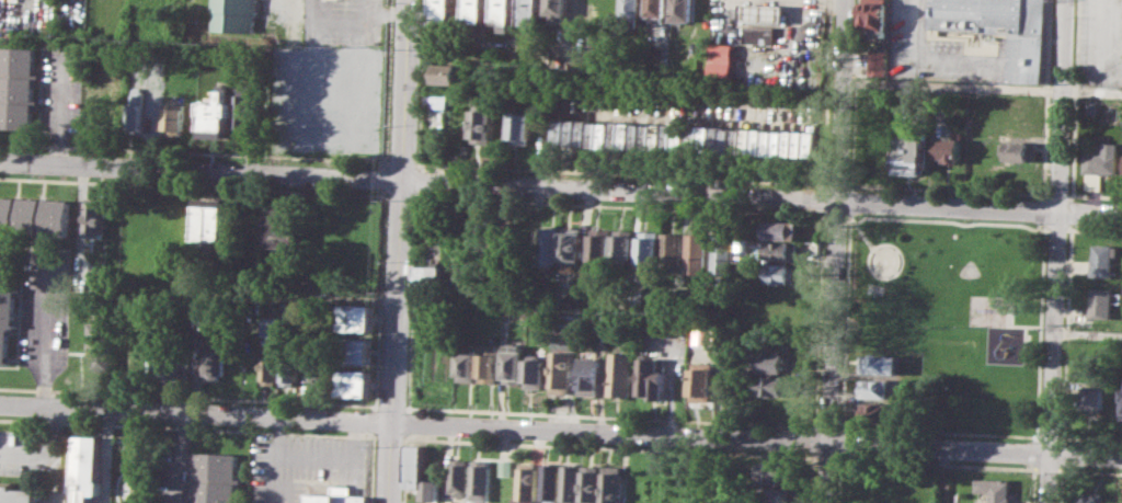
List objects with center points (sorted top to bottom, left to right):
building: (557, 9)
building: (657, 9)
building: (684, 10)
building: (444, 11)
building: (477, 11)
building: (531, 12)
building: (607, 12)
building: (633, 12)
building: (763, 12)
gas station: (763, 12)
building: (505, 13)
building: (236, 14)
building: (875, 18)
road: (291, 20)
building: (1001, 28)
building: (759, 34)
parking lot: (1100, 43)
building: (722, 60)
building: (878, 61)
building: (448, 72)
road: (386, 83)
road: (420, 83)
building: (16, 87)
road: (982, 88)
parking lot: (60, 90)
road: (826, 92)
building: (435, 100)
road: (1057, 105)
building: (243, 107)
building: (1091, 107)
road: (59, 108)
building: (214, 115)
building: (134, 116)
building: (173, 121)
building: (483, 125)
building: (1019, 127)
building: (519, 128)
building: (618, 135)
building: (752, 140)
building: (947, 149)
building: (1018, 150)
road: (192, 151)
building: (909, 152)
building: (1102, 159)
road: (385, 163)
road: (399, 163)
road: (620, 174)
road: (382, 178)
road: (416, 179)
road: (837, 184)
road: (528, 185)
road: (848, 185)
road: (855, 185)
road: (382, 191)
road: (1055, 195)
road: (1094, 195)
road: (823, 199)
road: (619, 206)
road: (1066, 210)
road: (1089, 213)
building: (34, 216)
building: (93, 217)
building: (209, 221)
building: (280, 224)
road: (856, 224)
building: (782, 229)
road: (1096, 229)
building: (494, 239)
building: (503, 240)
building: (548, 243)
building: (572, 244)
building: (599, 244)
building: (622, 247)
building: (646, 249)
building: (781, 250)
road: (398, 251)
road: (836, 251)
building: (671, 252)
building: (694, 252)
building: (721, 253)
building: (1103, 259)
park: (969, 270)
building: (99, 271)
road: (897, 271)
building: (780, 272)
building: (428, 278)
road: (378, 295)
building: (636, 298)
road: (411, 300)
building: (1100, 302)
building: (7, 305)
parking lot: (46, 306)
park: (955, 315)
building: (357, 317)
road: (817, 321)
building: (270, 323)
road: (1009, 324)
building: (676, 328)
road: (45, 330)
building: (99, 332)
road: (1052, 332)
road: (1065, 333)
road: (1086, 334)
building: (707, 335)
building: (356, 350)
road: (1023, 351)
building: (213, 355)
building: (160, 362)
building: (774, 362)
building: (515, 363)
building: (446, 364)
building: (880, 364)
building: (468, 365)
building: (490, 367)
building: (267, 369)
building: (287, 370)
building: (537, 371)
building: (319, 373)
building: (562, 373)
building: (592, 373)
building: (622, 373)
building: (655, 378)
building: (353, 382)
building: (705, 382)
park: (963, 382)
building: (770, 385)
building: (879, 388)
building: (1094, 397)
road: (371, 408)
building: (1121, 409)
building: (879, 412)
road: (54, 419)
road: (370, 420)
road: (408, 423)
road: (218, 428)
road: (843, 430)
road: (523, 433)
road: (1030, 433)
road: (371, 435)
road: (1035, 435)
road: (389, 437)
road: (1046, 437)
road: (1089, 439)
road: (813, 441)
road: (843, 444)
road: (609, 448)
parking lot: (30, 453)
road: (37, 454)
road: (1061, 454)
road: (1084, 455)
road: (826, 458)
road: (841, 458)
building: (506, 467)
building: (84, 468)
road: (404, 468)
road: (1091, 471)
building: (421, 472)
building: (779, 472)
building: (460, 476)
building: (213, 477)
road: (812, 478)
road: (1045, 478)
building: (481, 480)
building: (551, 481)
building: (528, 482)
building: (572, 483)
building: (593, 483)
road: (1060, 483)
building: (614, 484)
building: (994, 489)
building: (16, 494)
building: (778, 494)
building: (337, 498)
building: (1092, 498)

